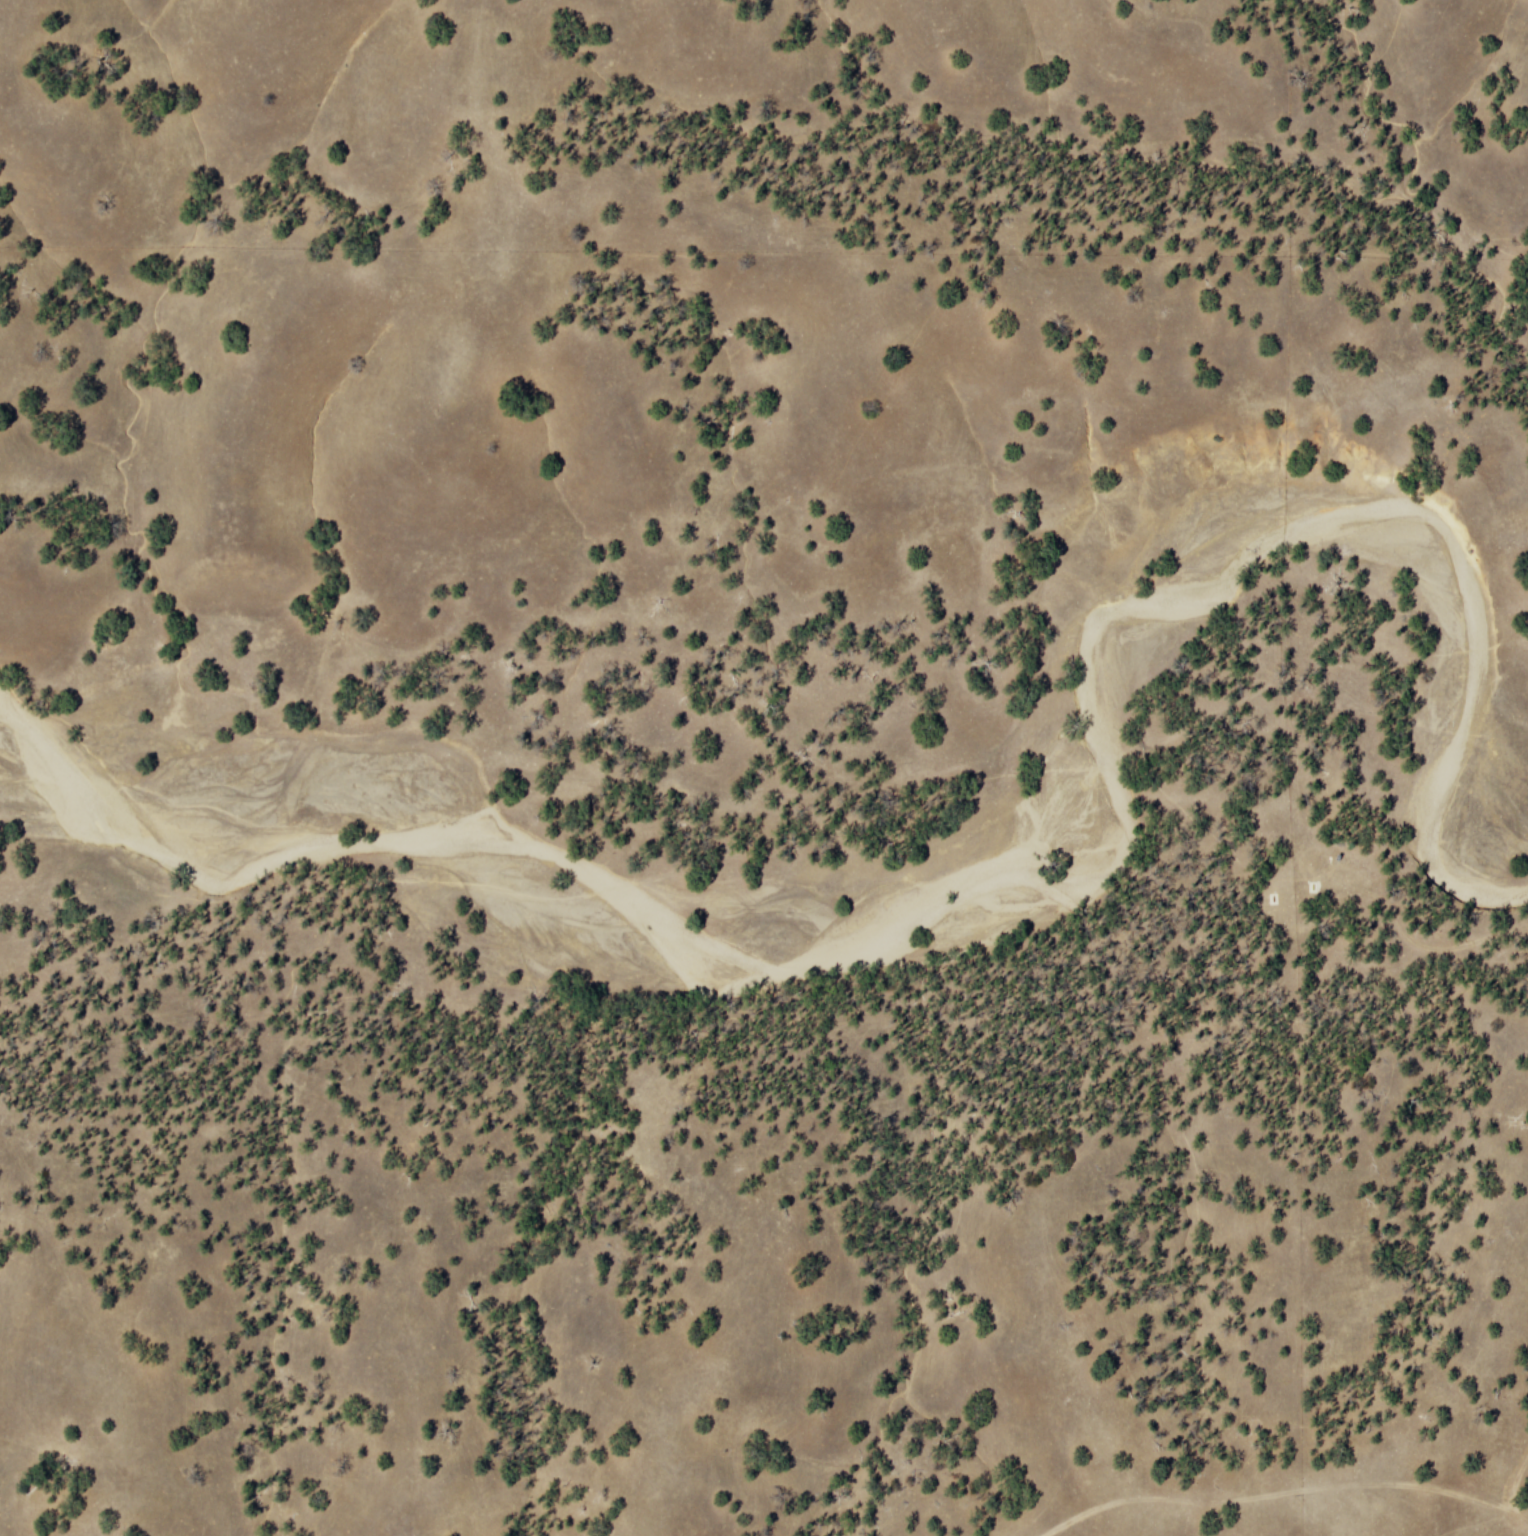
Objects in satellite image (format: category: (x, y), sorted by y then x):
river: (1048, 887)
road: (1462, 946)
road: (1513, 1477)
road: (1271, 1494)
road: (1516, 1512)

